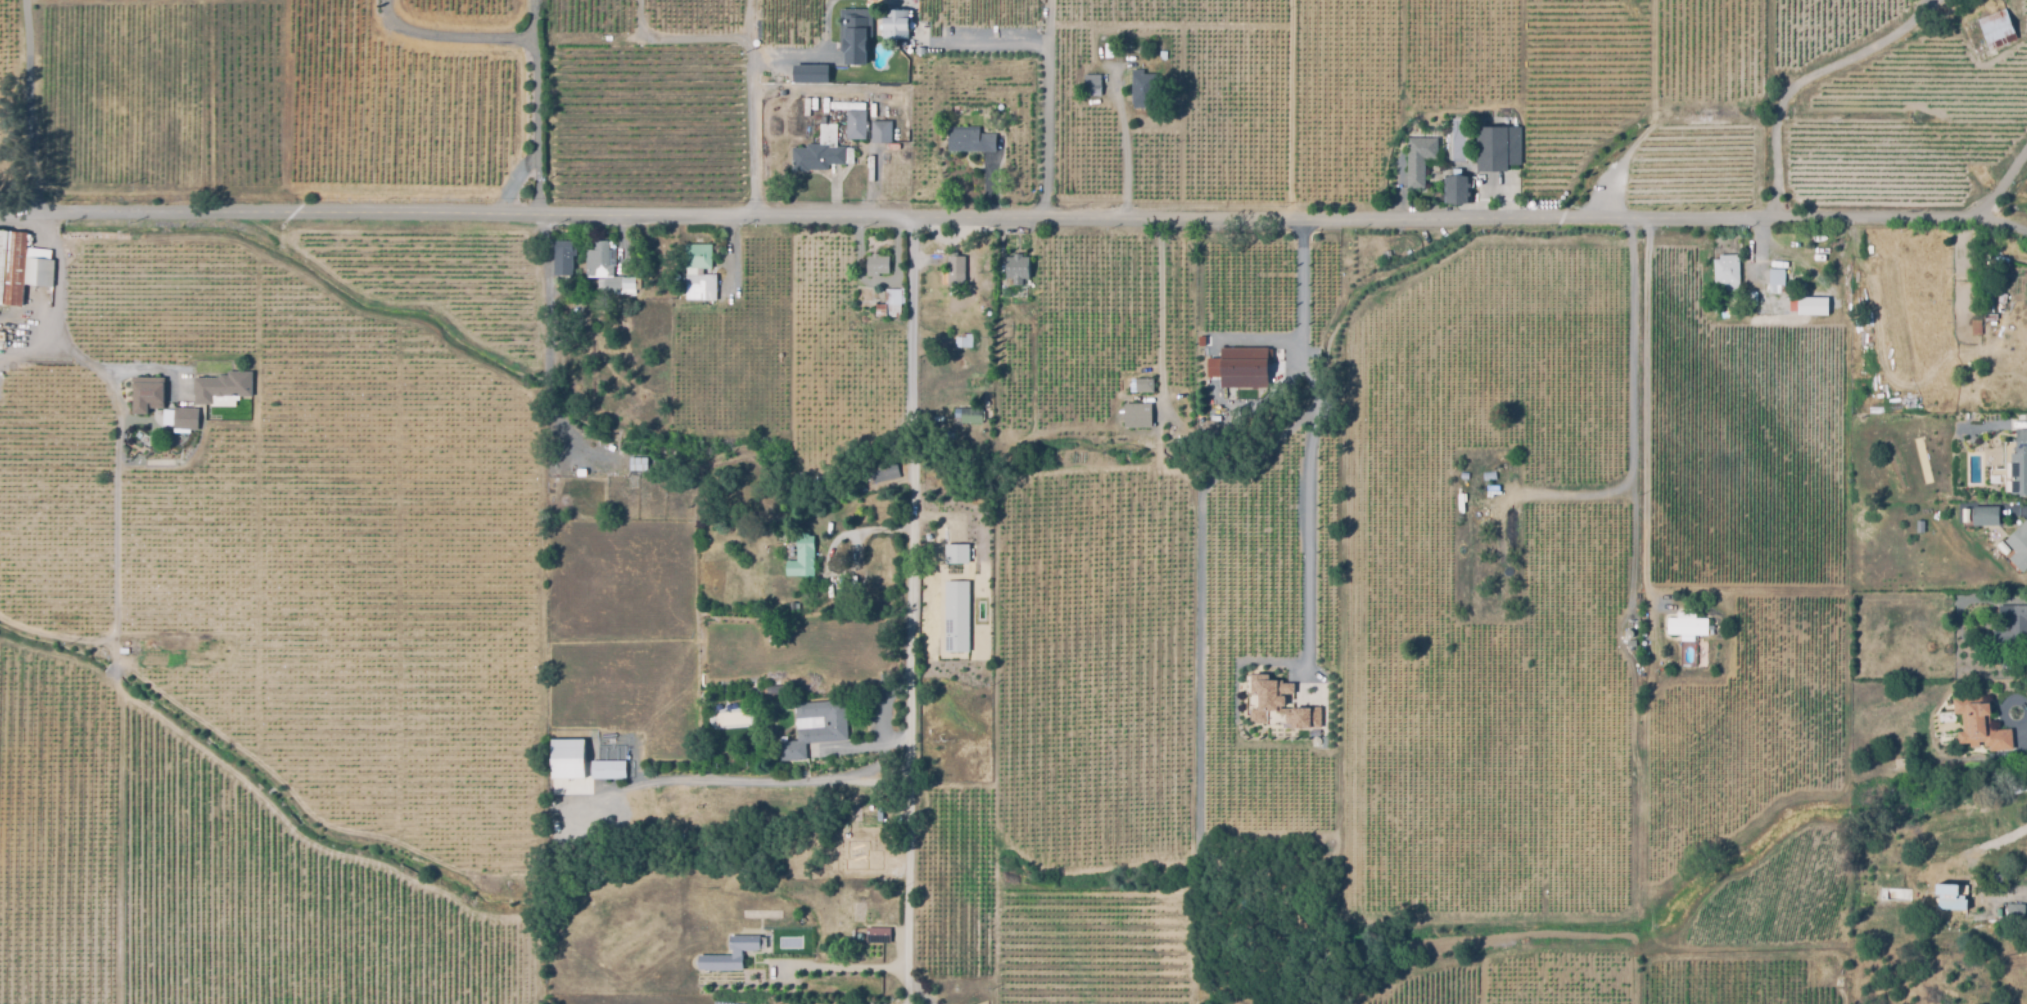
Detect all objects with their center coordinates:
building: (895, 25)
building: (1997, 29)
road: (449, 35)
building: (855, 36)
road: (687, 39)
building: (810, 76)
road: (1047, 82)
building: (1092, 85)
building: (1142, 88)
road: (27, 106)
building: (847, 106)
road: (535, 107)
road: (752, 112)
building: (856, 125)
building: (881, 132)
building: (969, 140)
building: (1497, 148)
building: (821, 152)
road: (1124, 158)
building: (1418, 159)
road: (511, 180)
road: (2001, 183)
building: (1455, 185)
road: (1900, 216)
road: (1034, 218)
building: (563, 257)
building: (876, 265)
building: (22, 267)
building: (606, 268)
building: (1014, 270)
building: (1727, 270)
building: (956, 272)
building: (700, 274)
building: (1998, 284)
building: (1790, 296)
building: (2001, 298)
building: (890, 304)
road: (58, 305)
building: (1976, 327)
road: (1265, 333)
building: (2, 337)
building: (964, 341)
road: (546, 348)
building: (1242, 365)
road: (144, 367)
building: (1144, 386)
building: (223, 389)
building: (148, 394)
building: (1136, 414)
road: (1635, 414)
building: (972, 416)
building: (182, 418)
road: (1315, 439)
building: (638, 464)
building: (2016, 464)
building: (882, 469)
building: (1983, 515)
road: (115, 527)
building: (1919, 527)
road: (831, 545)
building: (2019, 546)
building: (956, 553)
building: (801, 558)
road: (915, 610)
building: (956, 615)
building: (1687, 625)
building: (2012, 625)
building: (1992, 663)
building: (773, 688)
building: (1279, 705)
building: (1979, 724)
building: (816, 728)
building: (1317, 740)
building: (567, 759)
building: (608, 769)
building: (2021, 784)
building: (1951, 895)
building: (2015, 912)
building: (878, 934)
building: (735, 952)
road: (846, 968)
building: (971, 1003)

